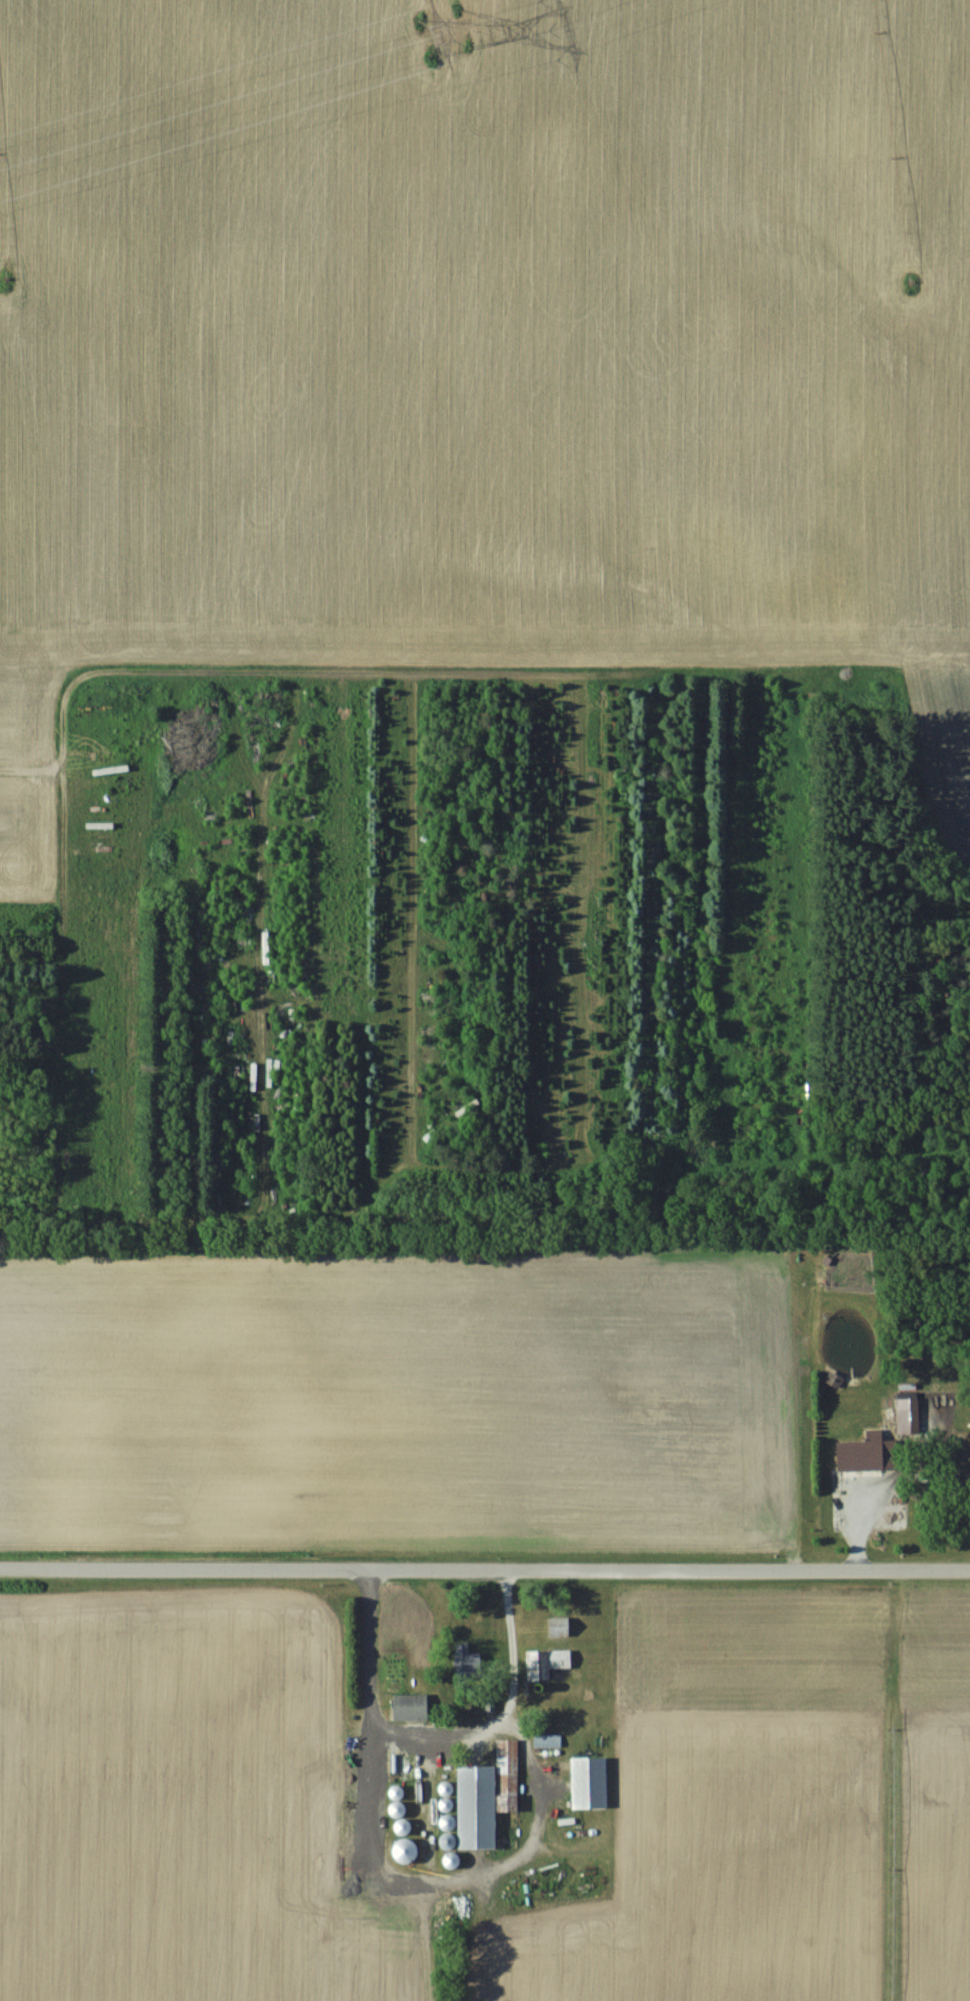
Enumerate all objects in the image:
power tower: (451, 29)
building: (266, 947)
road: (60, 988)
building: (835, 1379)
building: (908, 1415)
building: (868, 1455)
road: (948, 1470)
road: (484, 1569)
building: (560, 1627)
building: (465, 1658)
building: (547, 1664)
building: (411, 1707)
road: (440, 1731)
building: (589, 1783)
building: (485, 1797)
building: (404, 1827)
building: (406, 1851)
building: (453, 1860)

